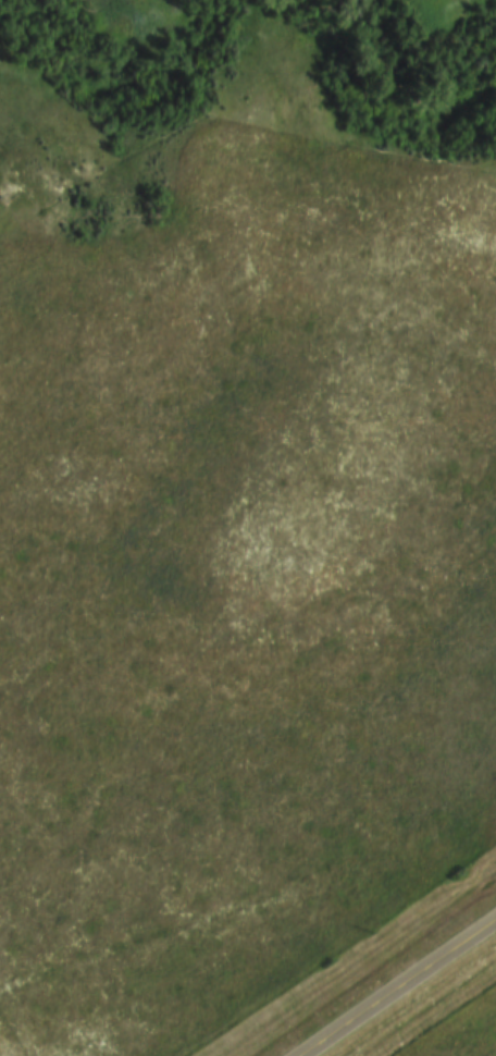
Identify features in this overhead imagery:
road: (398, 986)

